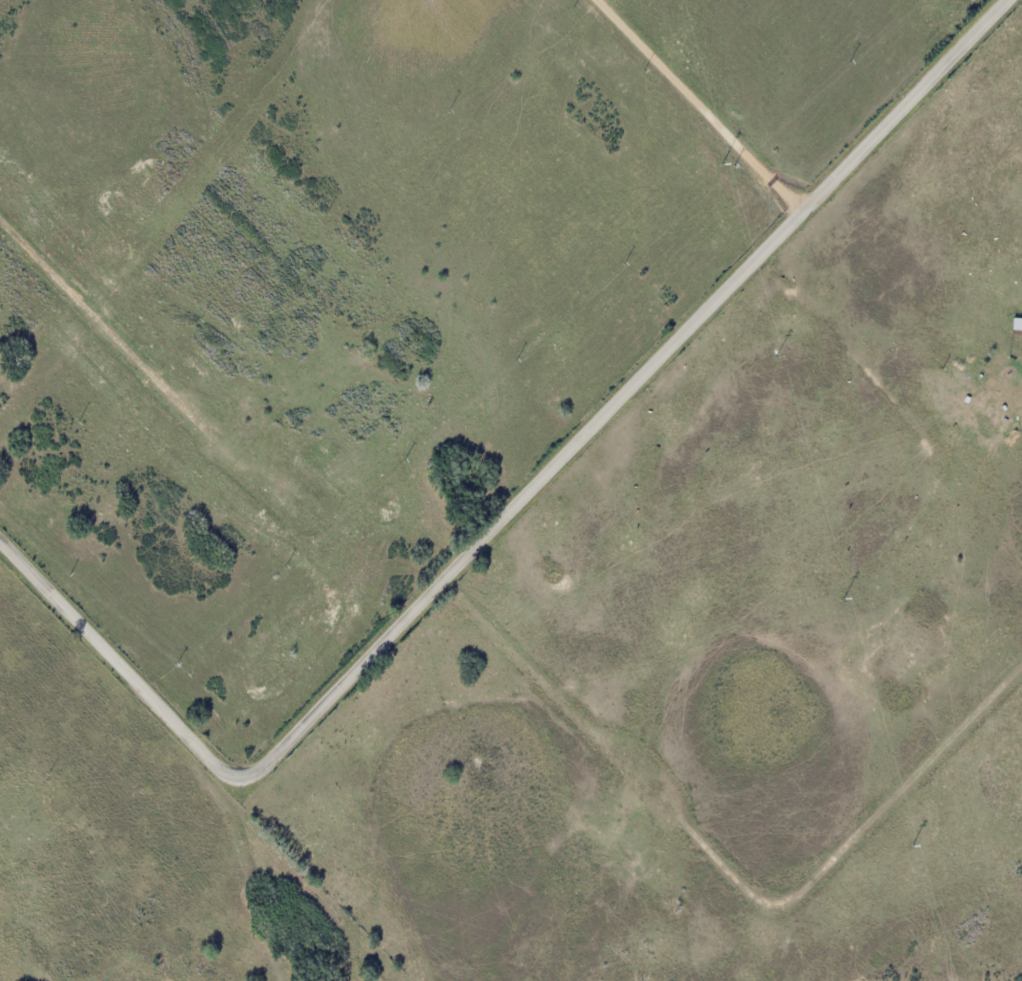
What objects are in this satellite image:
road: (756, 167)
building: (1018, 323)
road: (510, 513)

